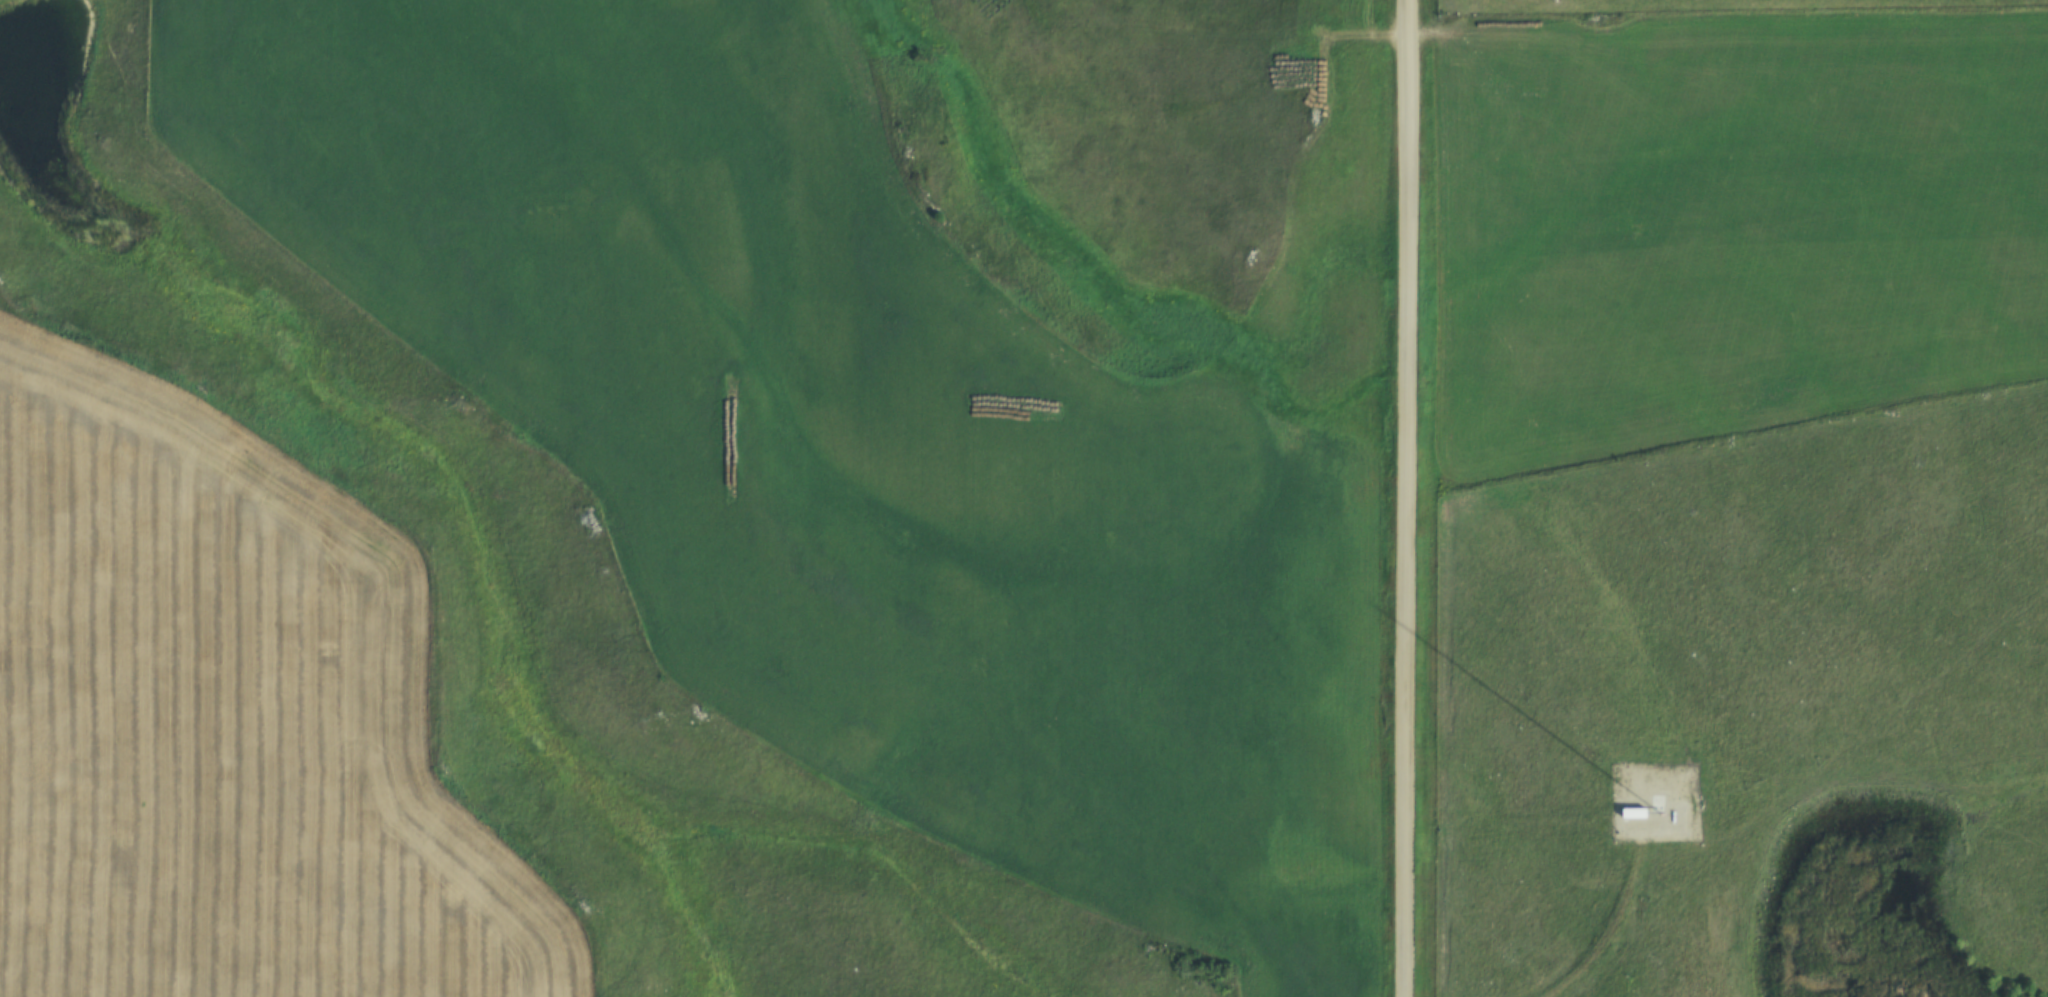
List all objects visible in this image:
road: (1414, 498)
building: (1637, 805)
road: (1618, 938)

